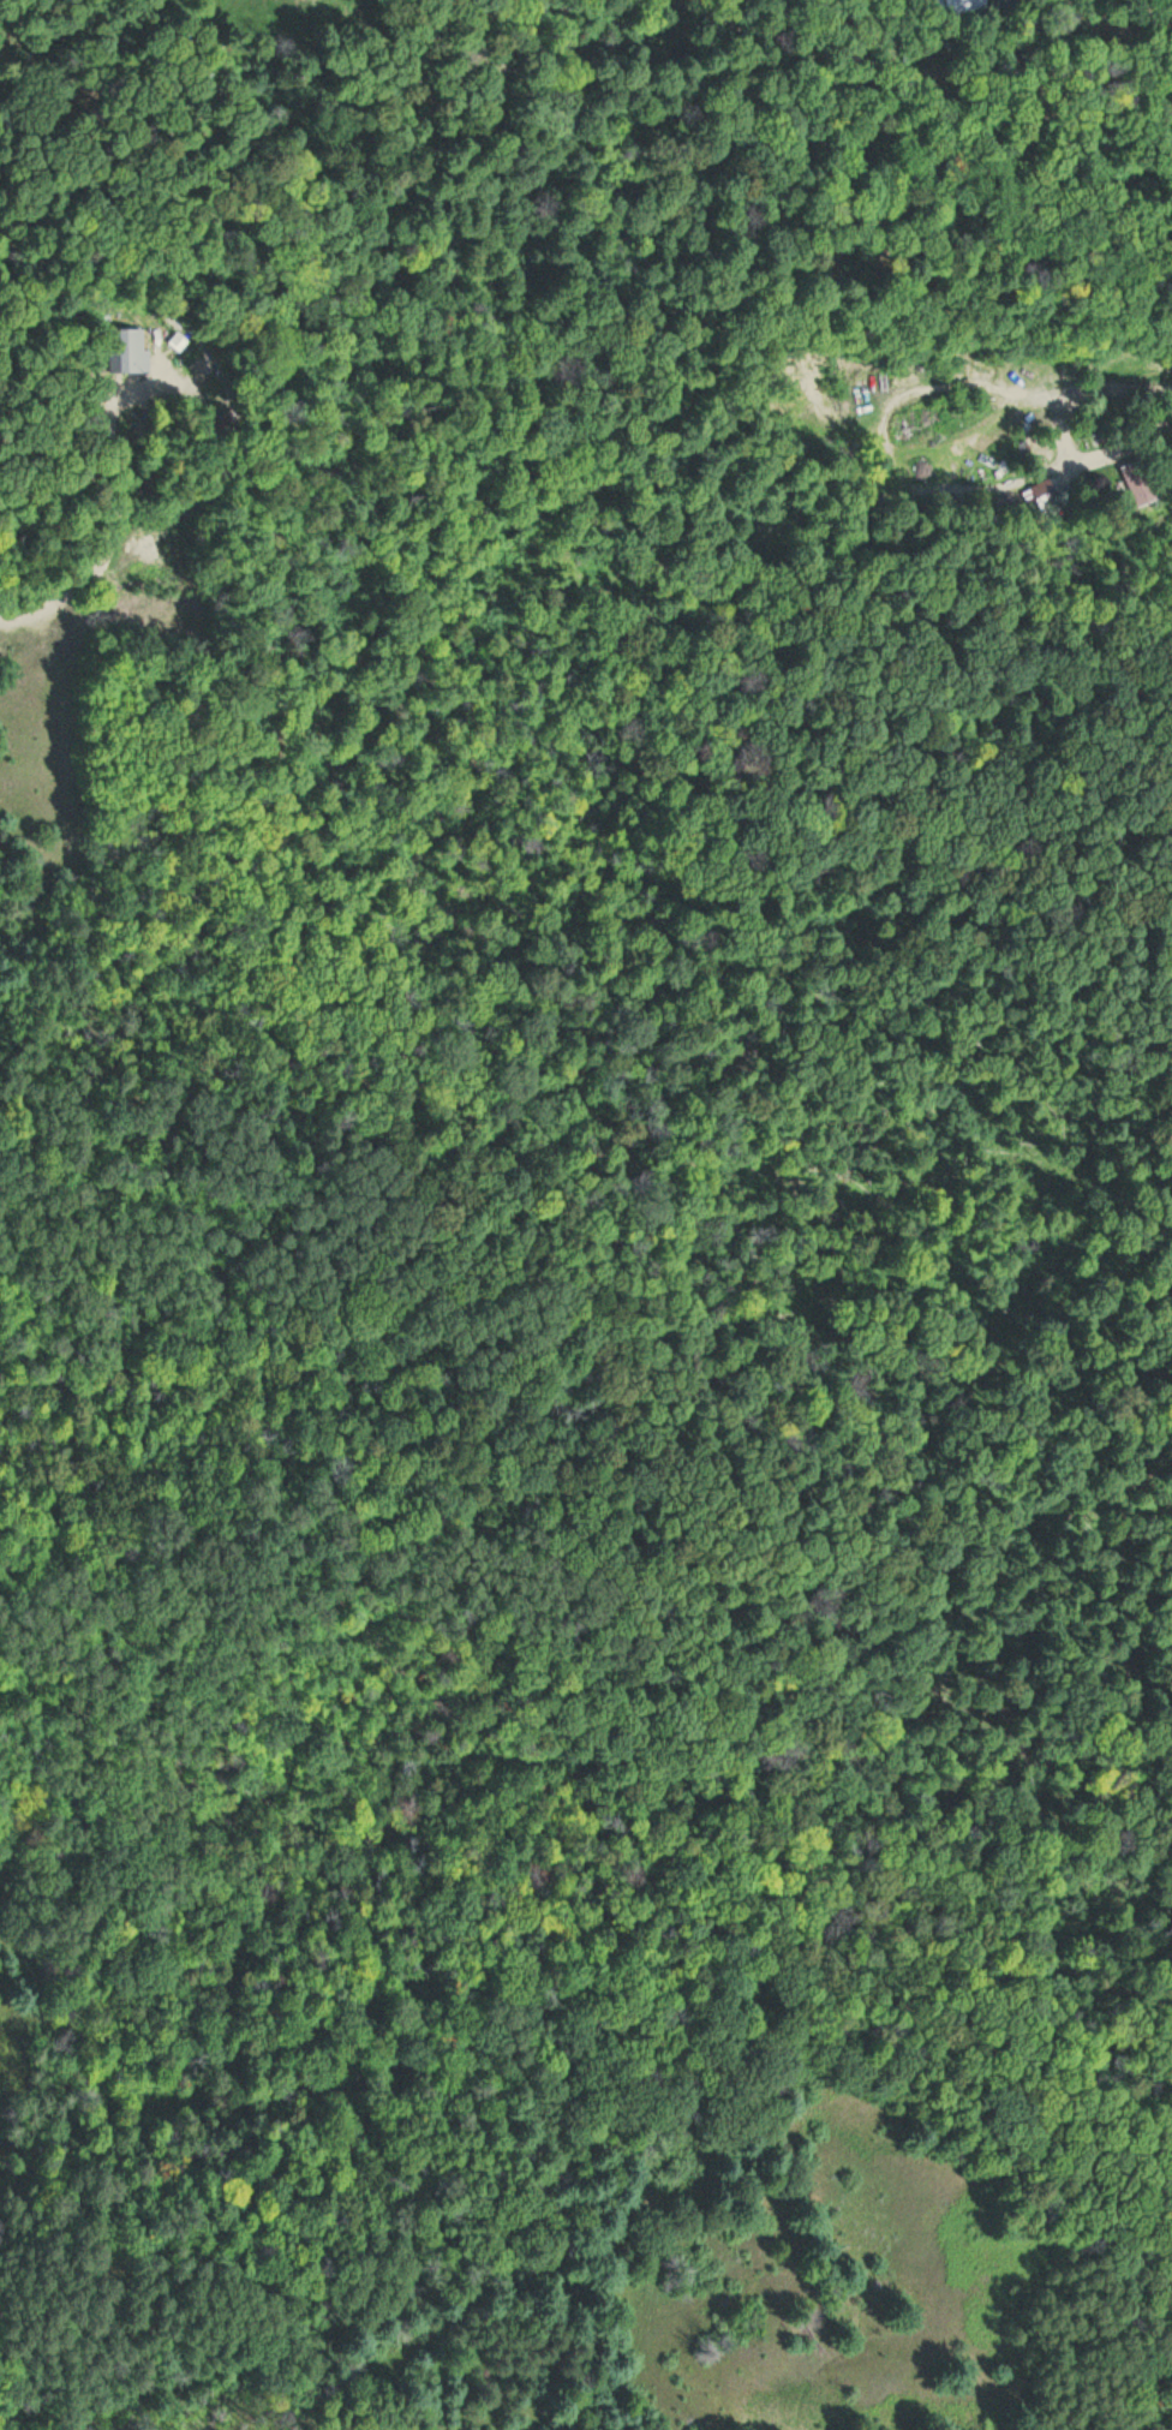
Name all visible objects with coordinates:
building: (963, 5)
road: (815, 216)
building: (124, 351)
building: (1137, 484)
building: (1041, 495)
road: (53, 616)

